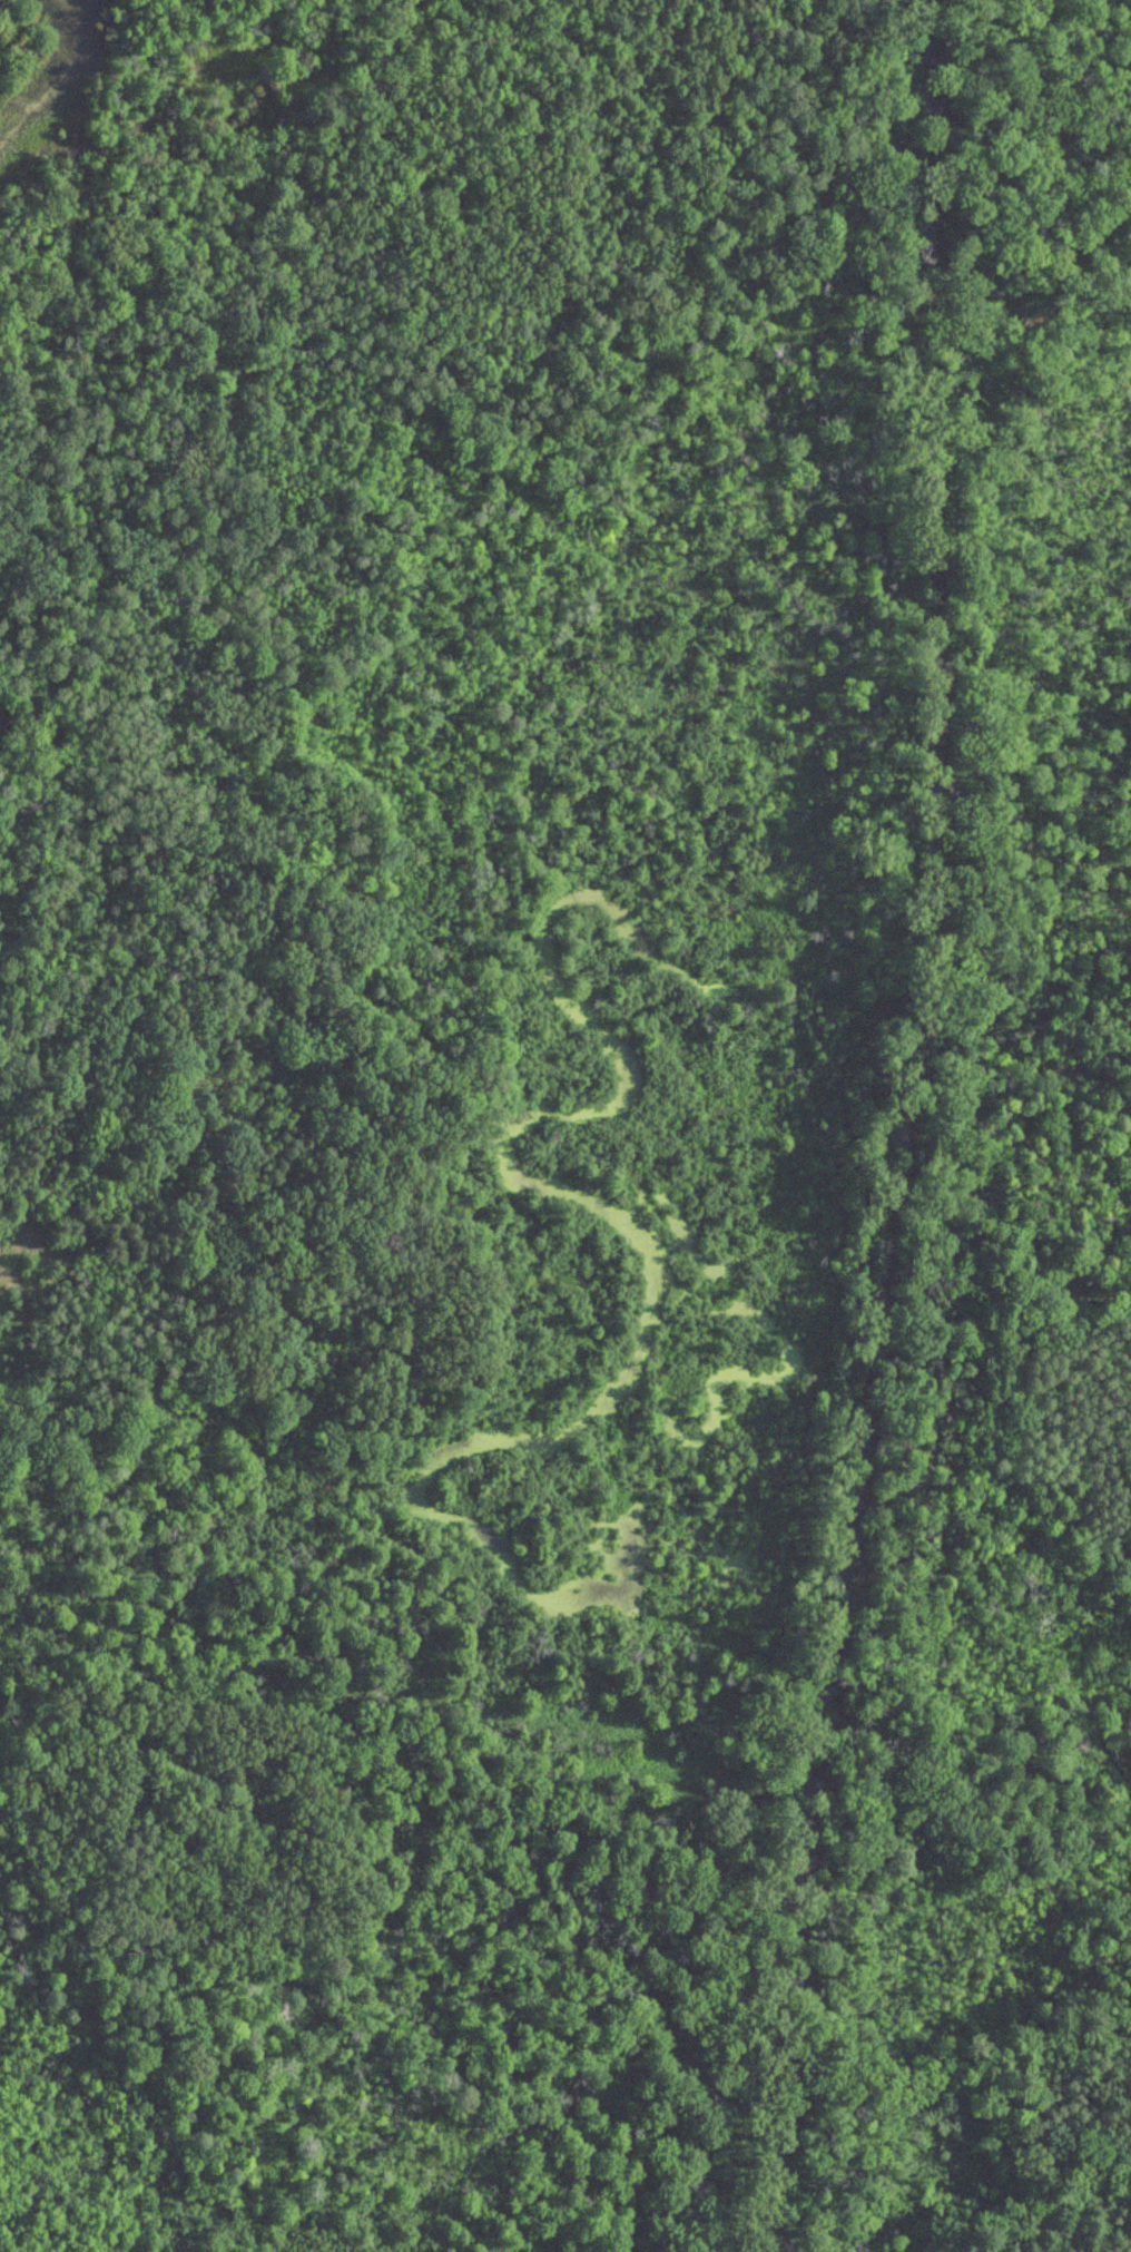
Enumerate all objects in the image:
road: (955, 262)
road: (990, 1396)
road: (1022, 2111)

